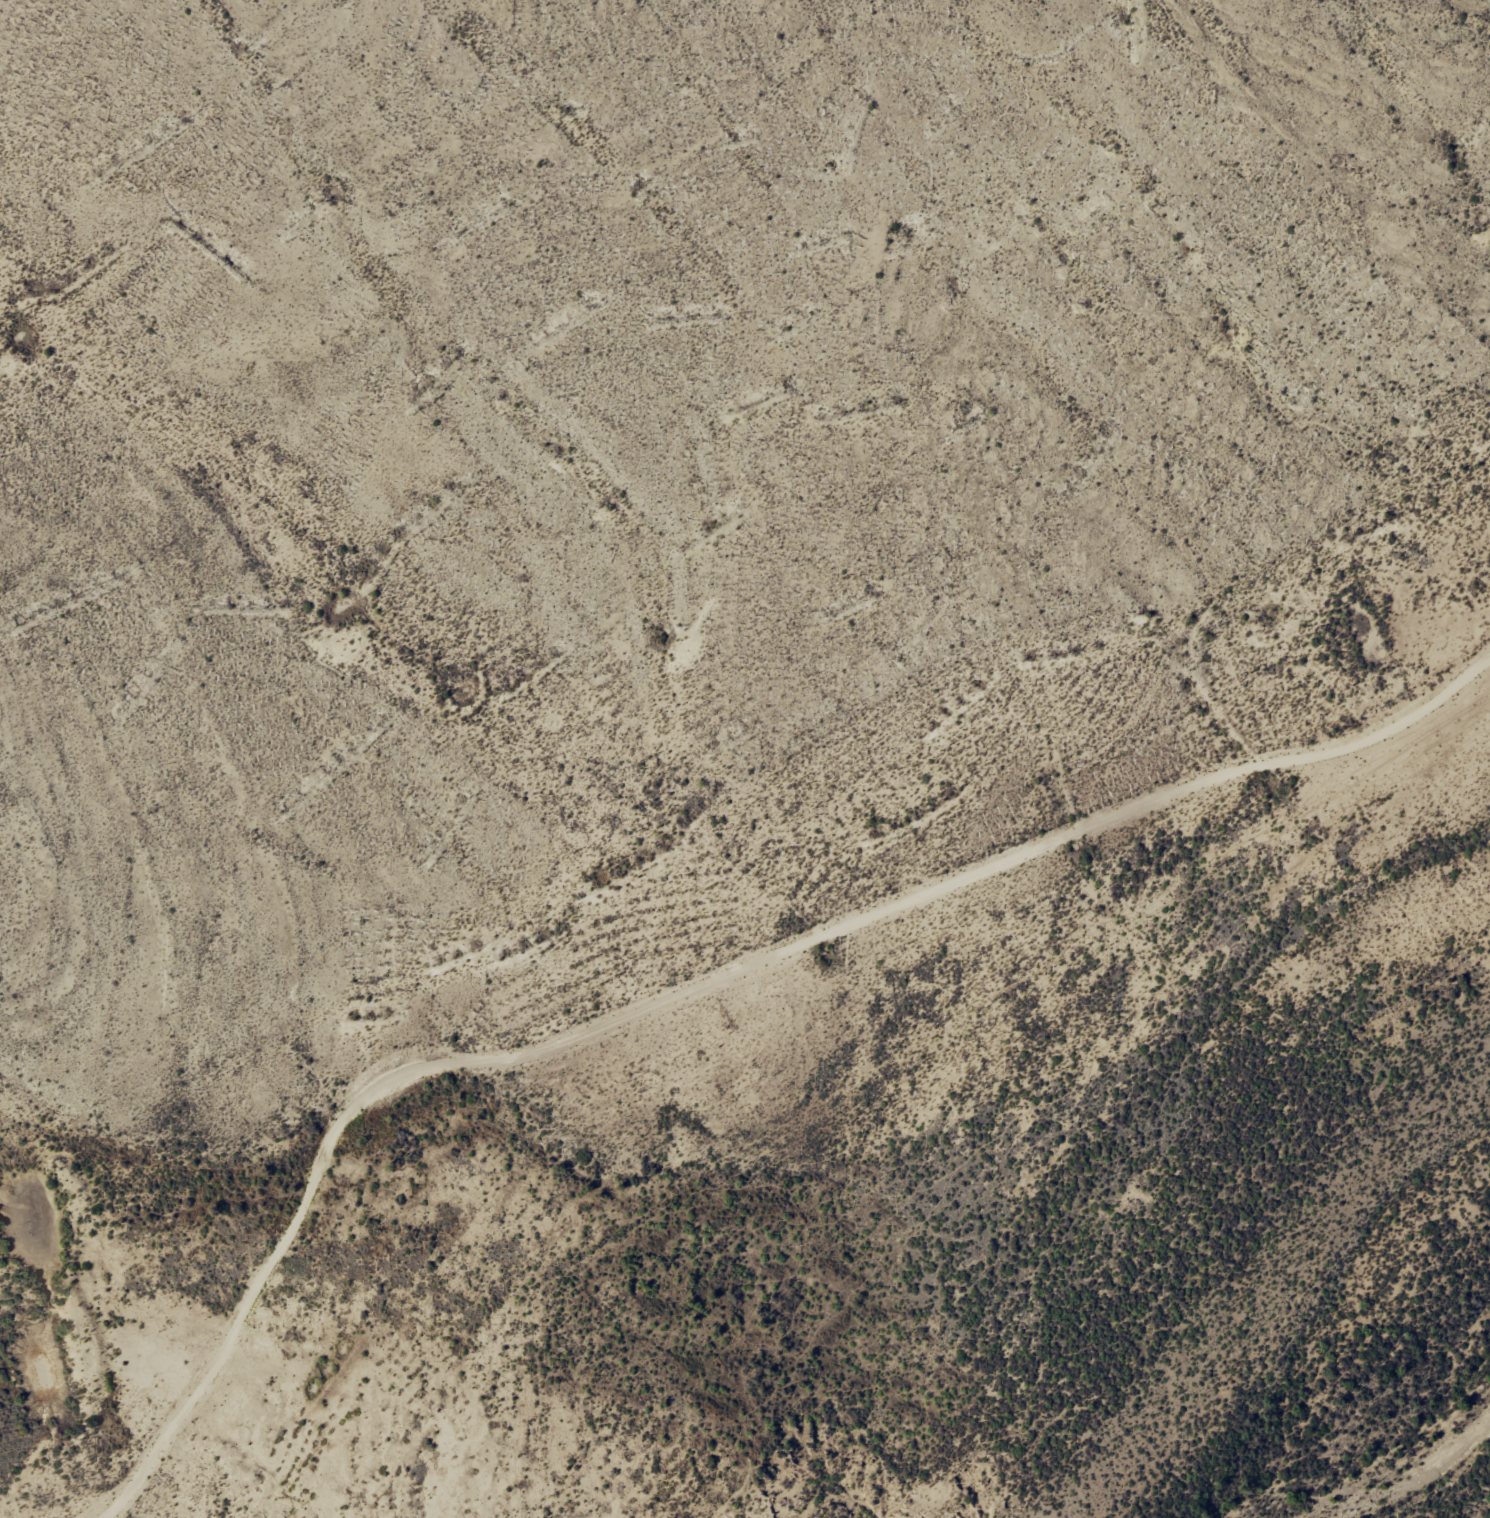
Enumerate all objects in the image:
road: (711, 983)

